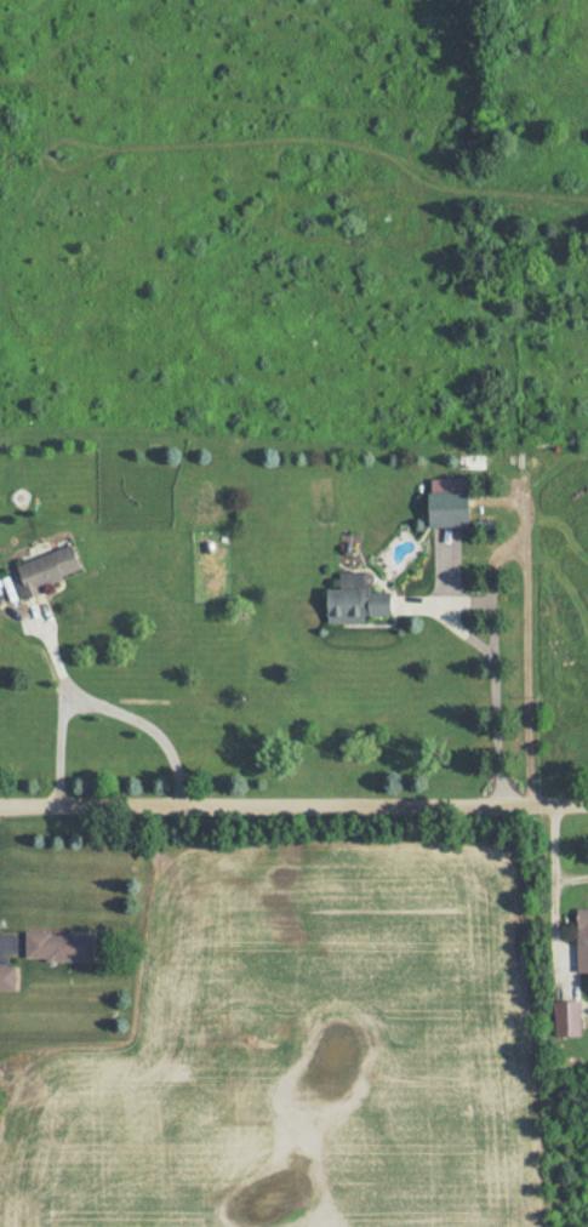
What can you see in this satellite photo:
building: (450, 503)
building: (47, 570)
building: (359, 600)
road: (493, 707)
road: (130, 712)
road: (293, 801)
road: (570, 883)
road: (550, 888)
building: (582, 940)
building: (59, 947)
building: (7, 977)
building: (570, 1020)

